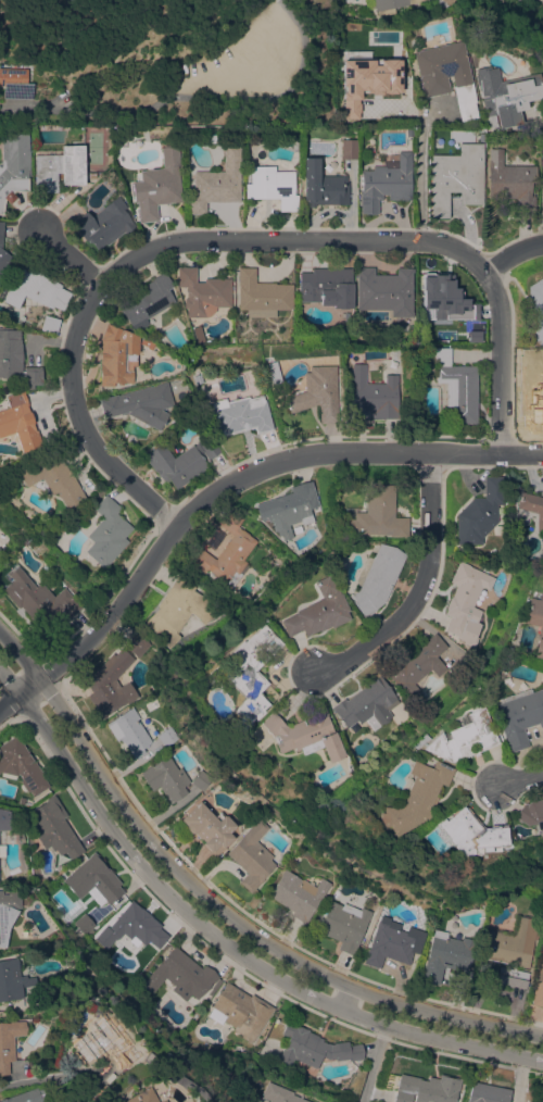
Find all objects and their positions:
building: (442, 2)
building: (387, 5)
building: (378, 74)
building: (446, 75)
building: (173, 79)
building: (15, 83)
building: (505, 95)
road: (24, 105)
building: (409, 130)
building: (349, 149)
building: (13, 165)
building: (59, 167)
building: (92, 175)
building: (456, 177)
road: (542, 177)
road: (418, 179)
building: (216, 181)
building: (386, 181)
building: (512, 184)
building: (271, 186)
building: (324, 187)
building: (156, 190)
building: (103, 223)
building: (0, 229)
road: (243, 239)
road: (512, 253)
road: (70, 262)
building: (5, 263)
building: (327, 288)
building: (35, 289)
building: (384, 290)
building: (202, 292)
building: (260, 295)
building: (450, 299)
building: (146, 300)
building: (534, 312)
building: (195, 329)
building: (10, 352)
building: (118, 354)
building: (274, 373)
building: (534, 375)
building: (30, 376)
building: (198, 378)
building: (456, 386)
building: (317, 392)
building: (374, 393)
building: (139, 404)
building: (240, 414)
building: (17, 422)
road: (522, 454)
building: (180, 461)
building: (52, 478)
road: (209, 494)
building: (532, 508)
building: (286, 511)
building: (480, 512)
building: (377, 514)
building: (498, 529)
building: (106, 533)
building: (0, 549)
building: (227, 553)
building: (484, 567)
building: (377, 578)
road: (420, 588)
building: (39, 599)
building: (465, 602)
building: (178, 610)
building: (317, 610)
building: (534, 623)
building: (135, 643)
building: (418, 665)
building: (250, 672)
building: (109, 685)
building: (367, 703)
building: (519, 716)
building: (130, 731)
building: (304, 735)
building: (167, 736)
building: (463, 737)
building: (418, 740)
building: (21, 765)
building: (166, 778)
road: (519, 778)
building: (201, 780)
building: (414, 797)
building: (531, 813)
building: (3, 819)
building: (52, 827)
building: (209, 827)
building: (469, 834)
building: (252, 855)
road: (161, 871)
building: (93, 878)
building: (298, 894)
building: (8, 912)
building: (84, 923)
building: (343, 925)
building: (132, 928)
building: (392, 942)
building: (513, 943)
building: (446, 955)
building: (180, 975)
building: (512, 977)
building: (10, 979)
building: (538, 987)
building: (239, 1011)
road: (466, 1031)
building: (8, 1042)
building: (104, 1042)
building: (314, 1047)
road: (375, 1057)
road: (37, 1077)
building: (427, 1089)
building: (487, 1093)
building: (278, 1094)
building: (26, 1095)
building: (139, 1095)
building: (162, 1101)

